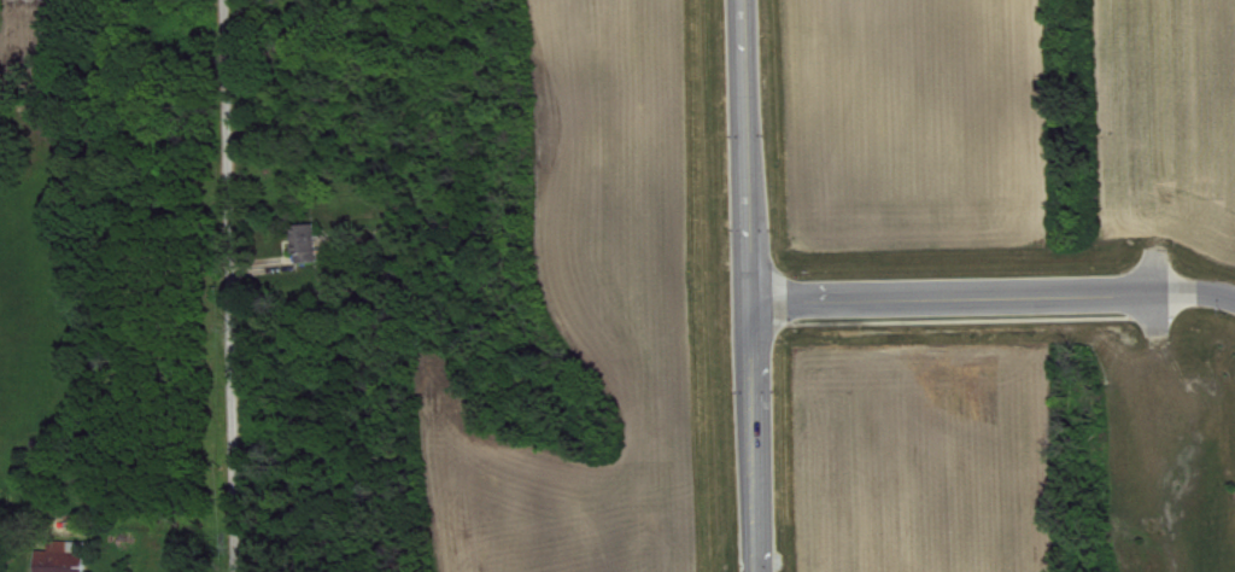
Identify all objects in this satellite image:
building: (310, 253)
road: (223, 286)
road: (742, 286)
road: (1206, 287)
road: (959, 292)
building: (66, 561)

